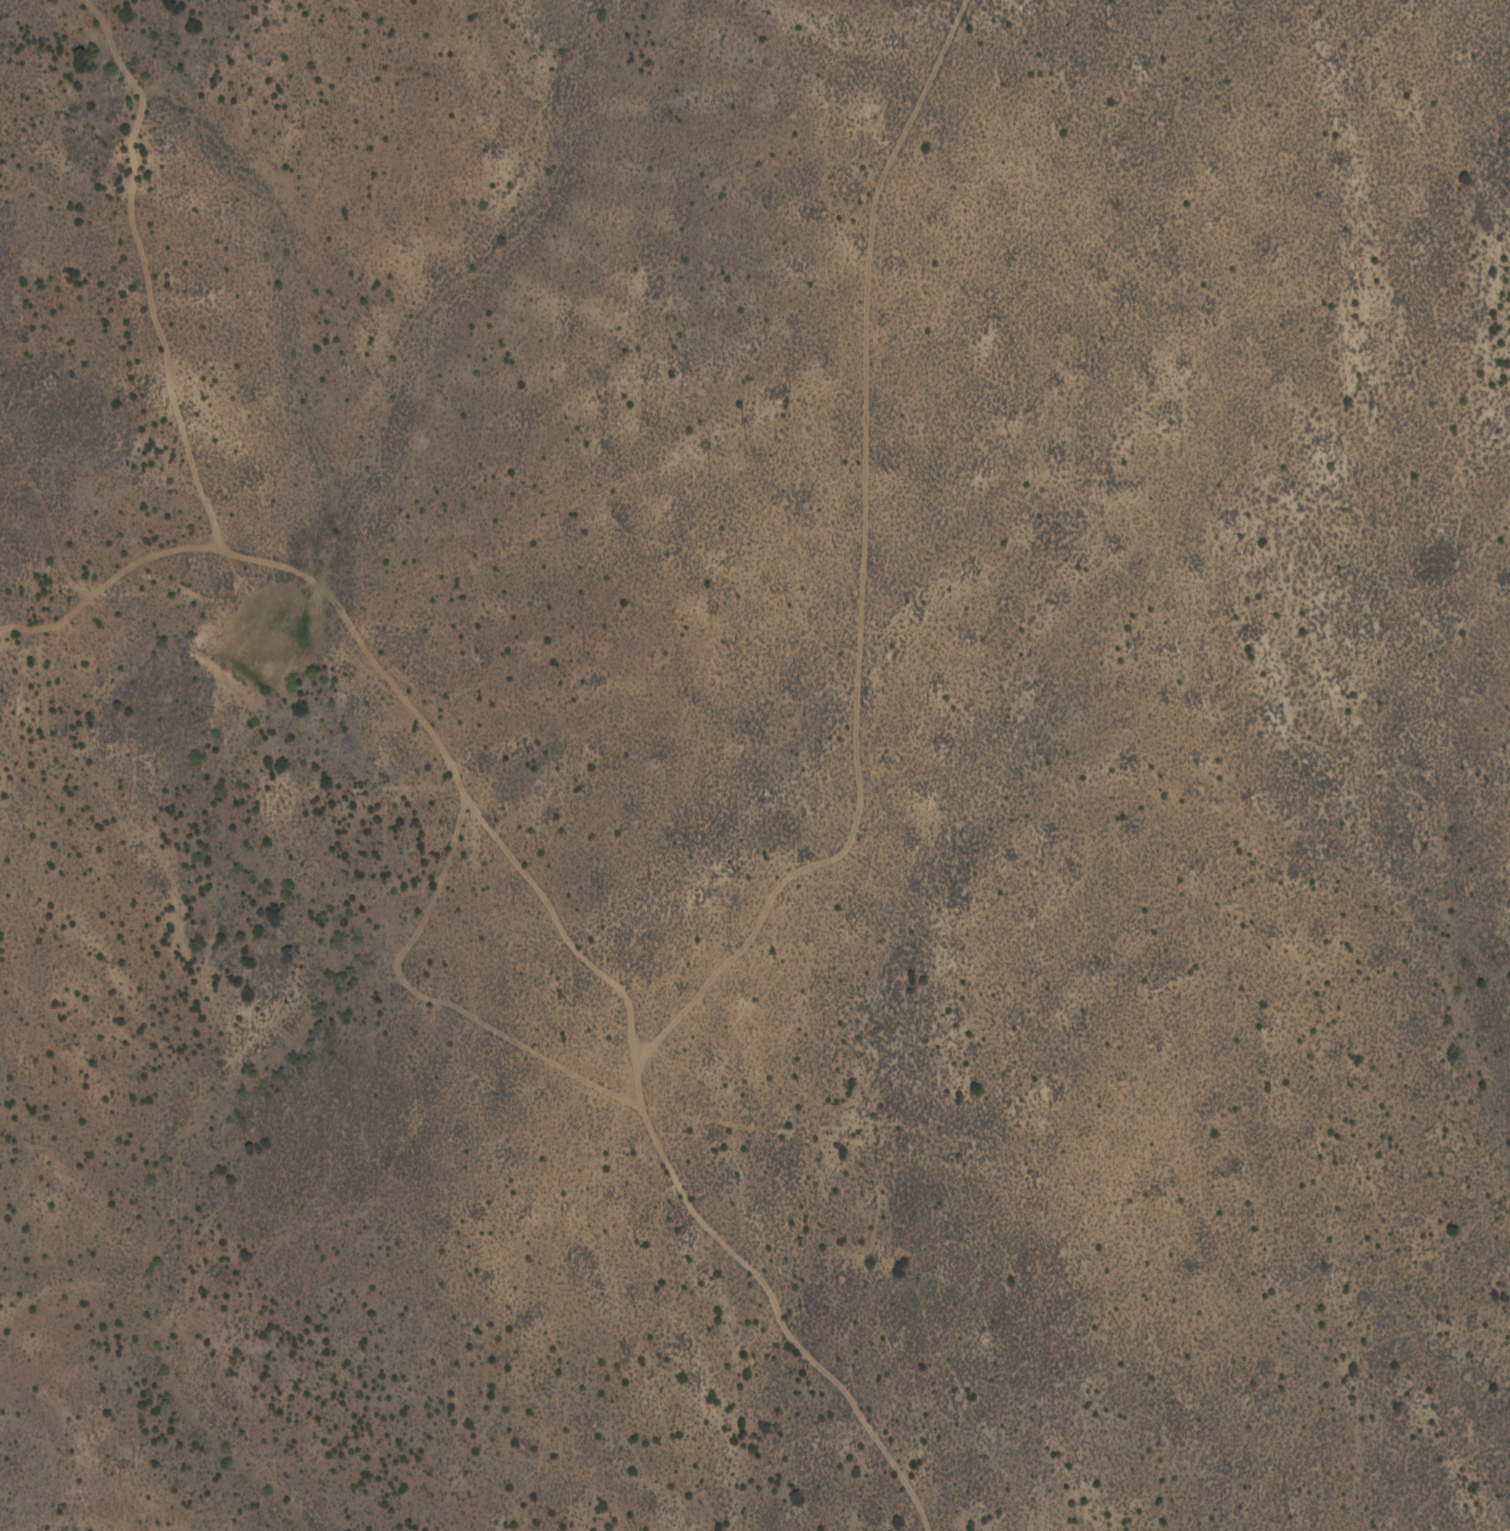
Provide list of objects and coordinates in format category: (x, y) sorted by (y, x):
road: (566, 867)

